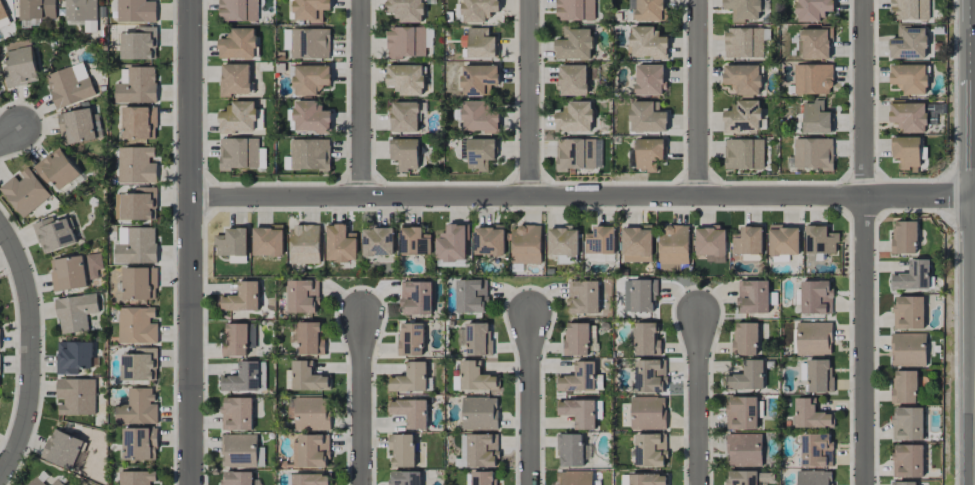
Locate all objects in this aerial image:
building: (37, 9)
building: (909, 9)
building: (81, 10)
building: (238, 10)
building: (310, 10)
building: (406, 10)
building: (479, 10)
building: (575, 10)
building: (743, 10)
building: (813, 10)
building: (136, 11)
building: (2, 12)
building: (90, 26)
building: (286, 39)
building: (406, 42)
building: (310, 43)
building: (478, 43)
building: (646, 43)
building: (743, 43)
building: (816, 43)
building: (909, 43)
building: (138, 44)
building: (238, 44)
building: (574, 45)
building: (20, 65)
building: (744, 78)
building: (910, 78)
building: (235, 79)
building: (311, 79)
building: (406, 79)
building: (479, 79)
building: (649, 79)
building: (813, 79)
building: (573, 80)
building: (137, 86)
building: (68, 88)
road: (362, 98)
road: (530, 98)
road: (698, 98)
building: (311, 117)
building: (405, 117)
building: (479, 117)
building: (574, 117)
building: (647, 117)
building: (743, 117)
building: (909, 117)
building: (238, 118)
building: (816, 118)
building: (139, 122)
building: (80, 126)
road: (10, 137)
building: (906, 151)
building: (239, 153)
building: (405, 153)
building: (480, 153)
building: (310, 154)
building: (579, 154)
building: (648, 154)
building: (744, 154)
building: (813, 154)
building: (137, 165)
building: (57, 169)
building: (24, 192)
road: (583, 197)
building: (138, 205)
building: (54, 235)
building: (904, 237)
building: (600, 240)
building: (784, 240)
building: (820, 240)
building: (268, 241)
building: (489, 241)
road: (191, 242)
building: (232, 242)
building: (378, 242)
building: (414, 242)
building: (563, 242)
road: (864, 242)
building: (452, 243)
building: (711, 243)
building: (748, 243)
building: (305, 244)
building: (341, 244)
building: (636, 244)
building: (526, 245)
building: (137, 247)
building: (673, 248)
building: (94, 264)
building: (69, 273)
building: (912, 276)
building: (139, 283)
building: (639, 295)
building: (303, 296)
building: (471, 296)
building: (753, 296)
building: (243, 297)
building: (583, 297)
building: (816, 297)
building: (416, 298)
building: (75, 312)
building: (908, 312)
building: (136, 326)
building: (310, 338)
building: (814, 338)
building: (411, 339)
building: (476, 339)
building: (579, 339)
building: (745, 339)
building: (236, 340)
building: (646, 340)
building: (908, 349)
road: (33, 351)
building: (73, 357)
building: (139, 365)
building: (817, 375)
building: (650, 376)
building: (747, 376)
building: (246, 377)
building: (307, 377)
building: (474, 377)
building: (411, 378)
building: (581, 379)
building: (904, 387)
building: (76, 396)
road: (699, 398)
road: (530, 399)
road: (362, 400)
building: (138, 408)
building: (410, 412)
building: (578, 412)
building: (480, 413)
building: (648, 413)
building: (743, 413)
building: (237, 414)
building: (312, 414)
building: (809, 415)
building: (907, 423)
building: (139, 444)
building: (62, 449)
building: (402, 450)
building: (570, 450)
building: (650, 450)
building: (744, 450)
building: (817, 450)
building: (241, 451)
building: (478, 451)
building: (908, 461)
building: (137, 478)
building: (238, 478)
building: (405, 478)
building: (484, 478)
building: (574, 478)
building: (742, 478)
building: (814, 478)
building: (310, 479)
building: (644, 479)
building: (36, 482)
building: (56, 482)
building: (905, 483)

